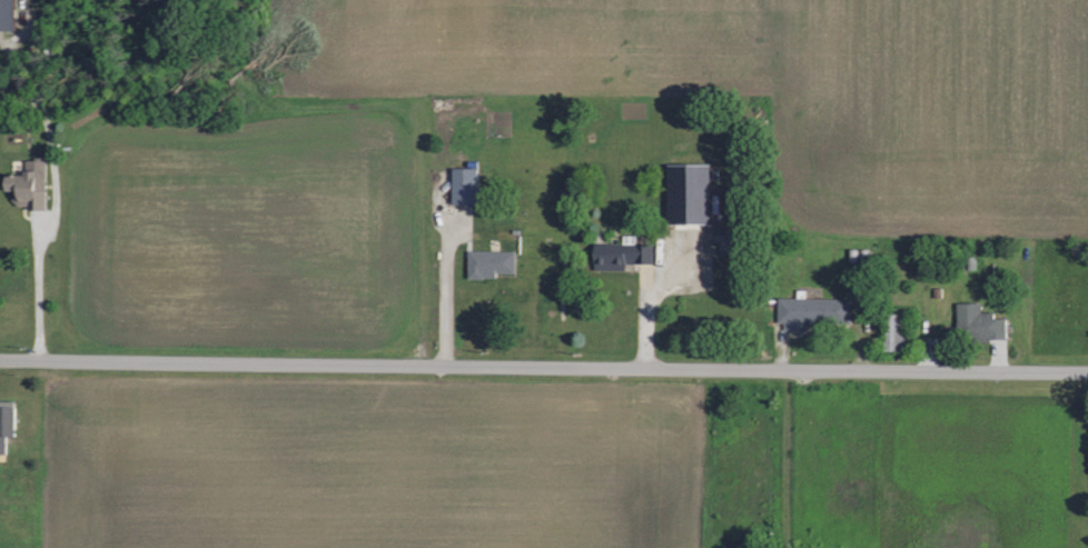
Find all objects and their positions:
building: (7, 16)
building: (28, 187)
building: (464, 187)
building: (688, 195)
building: (620, 256)
building: (491, 263)
road: (444, 288)
building: (814, 312)
building: (977, 322)
building: (892, 332)
road: (543, 367)
building: (7, 419)

